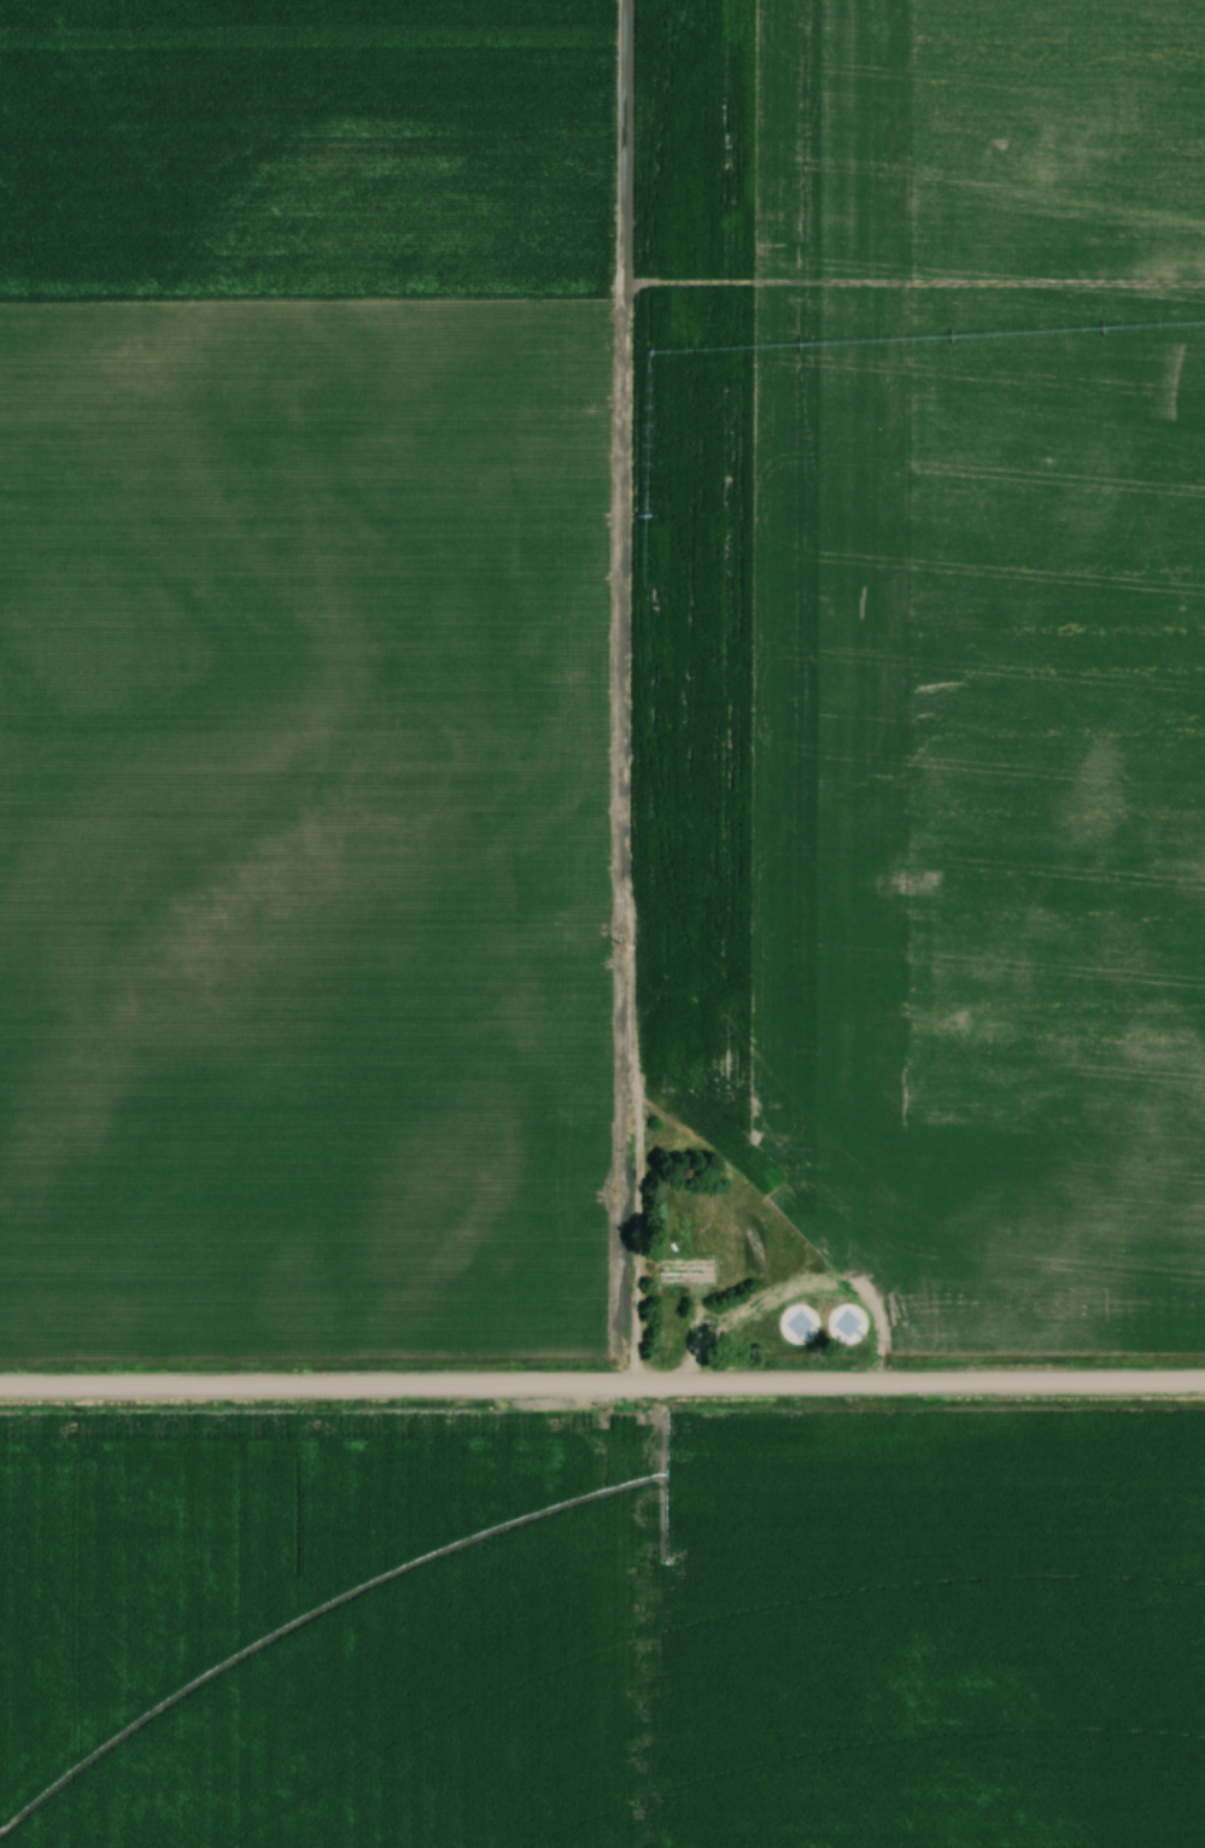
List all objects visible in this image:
crop: (309, 676)
building: (682, 1274)
building: (837, 1326)
building: (791, 1327)
road: (602, 1386)

